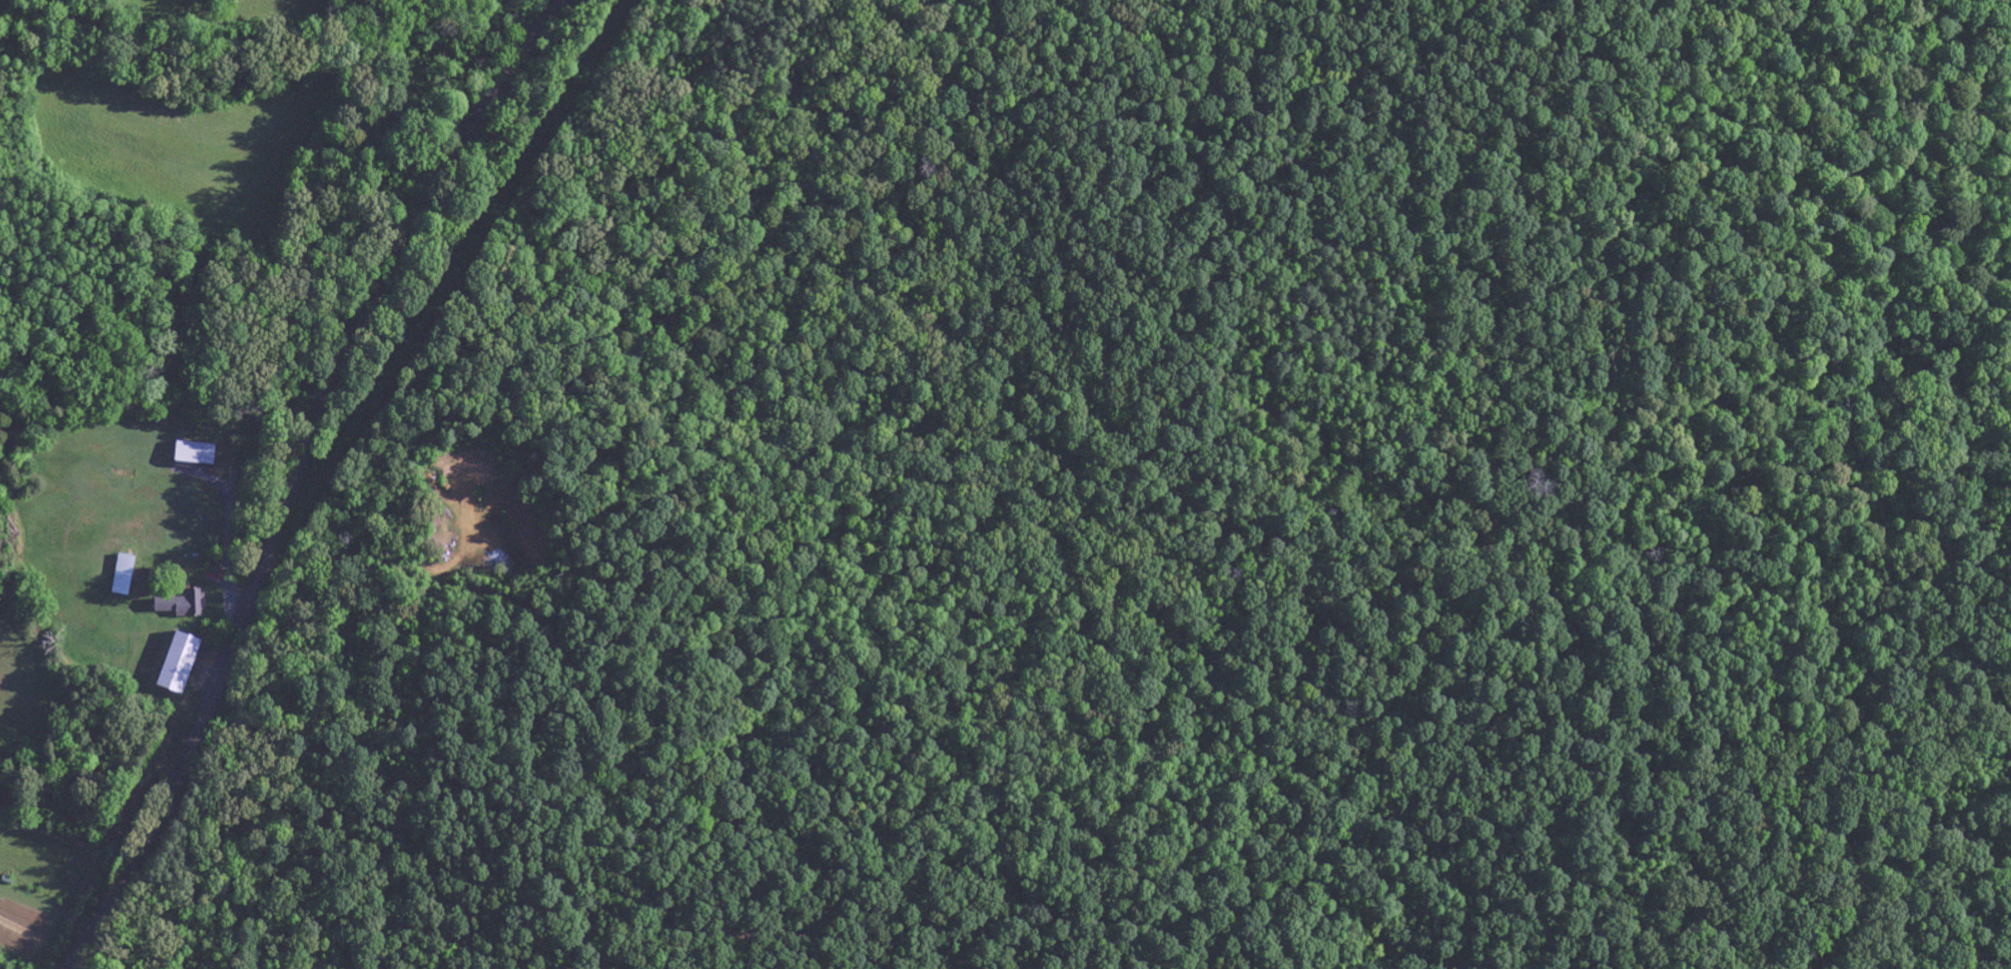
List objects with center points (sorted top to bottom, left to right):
building: (197, 453)
road: (298, 475)
building: (125, 575)
building: (184, 605)
building: (181, 663)

